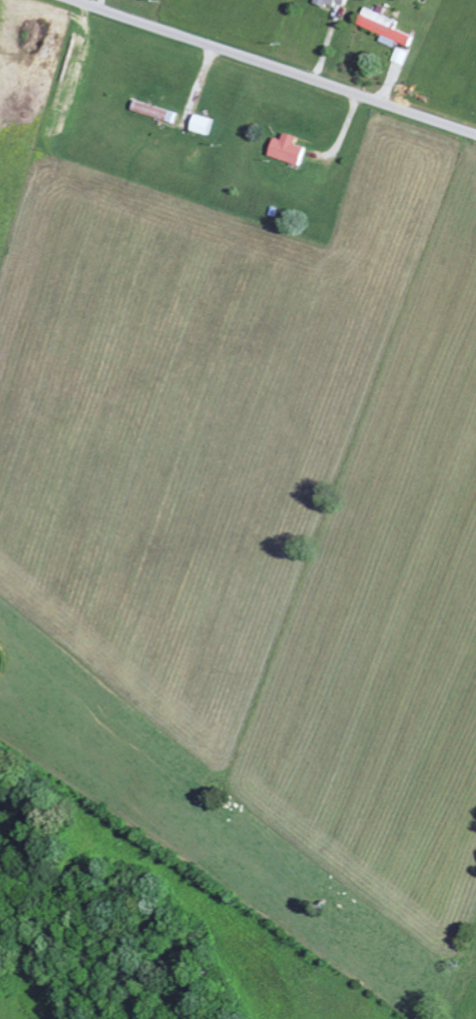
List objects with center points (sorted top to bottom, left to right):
building: (326, 1)
building: (380, 25)
road: (276, 67)
building: (157, 111)
building: (206, 124)
building: (285, 149)

